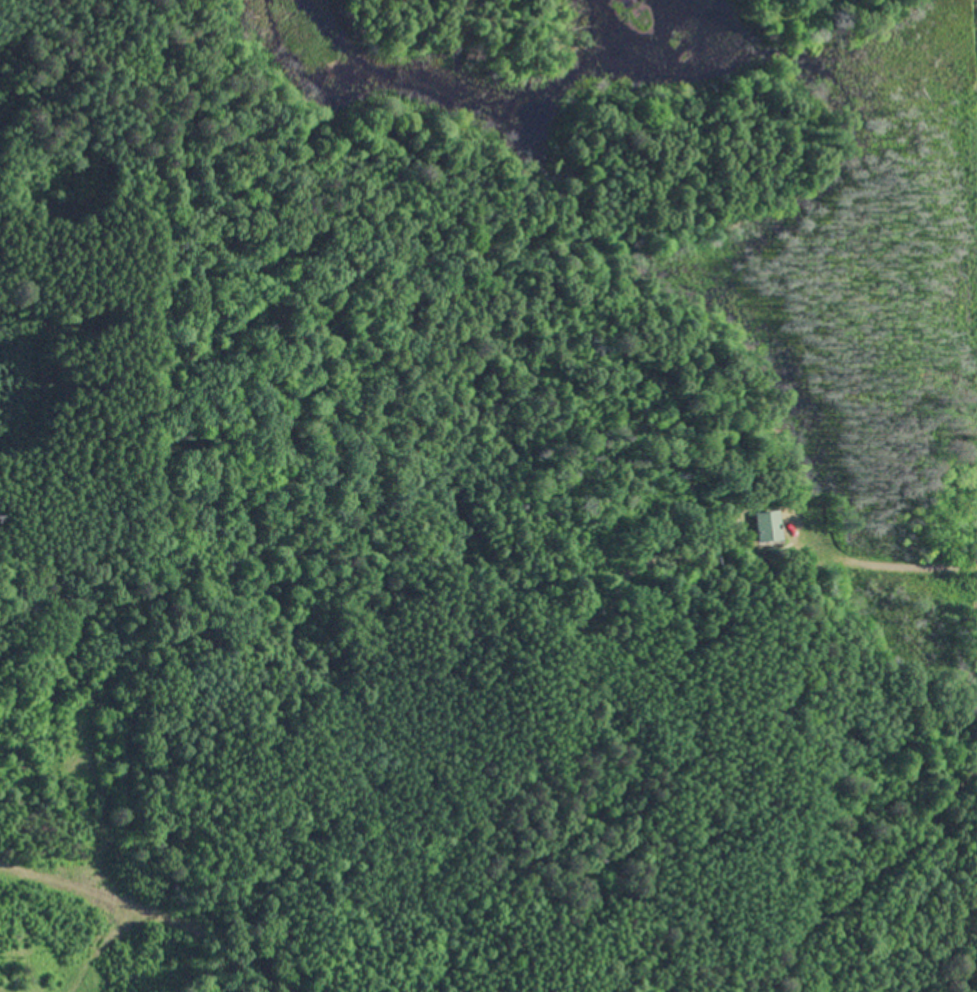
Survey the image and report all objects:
building: (768, 528)

